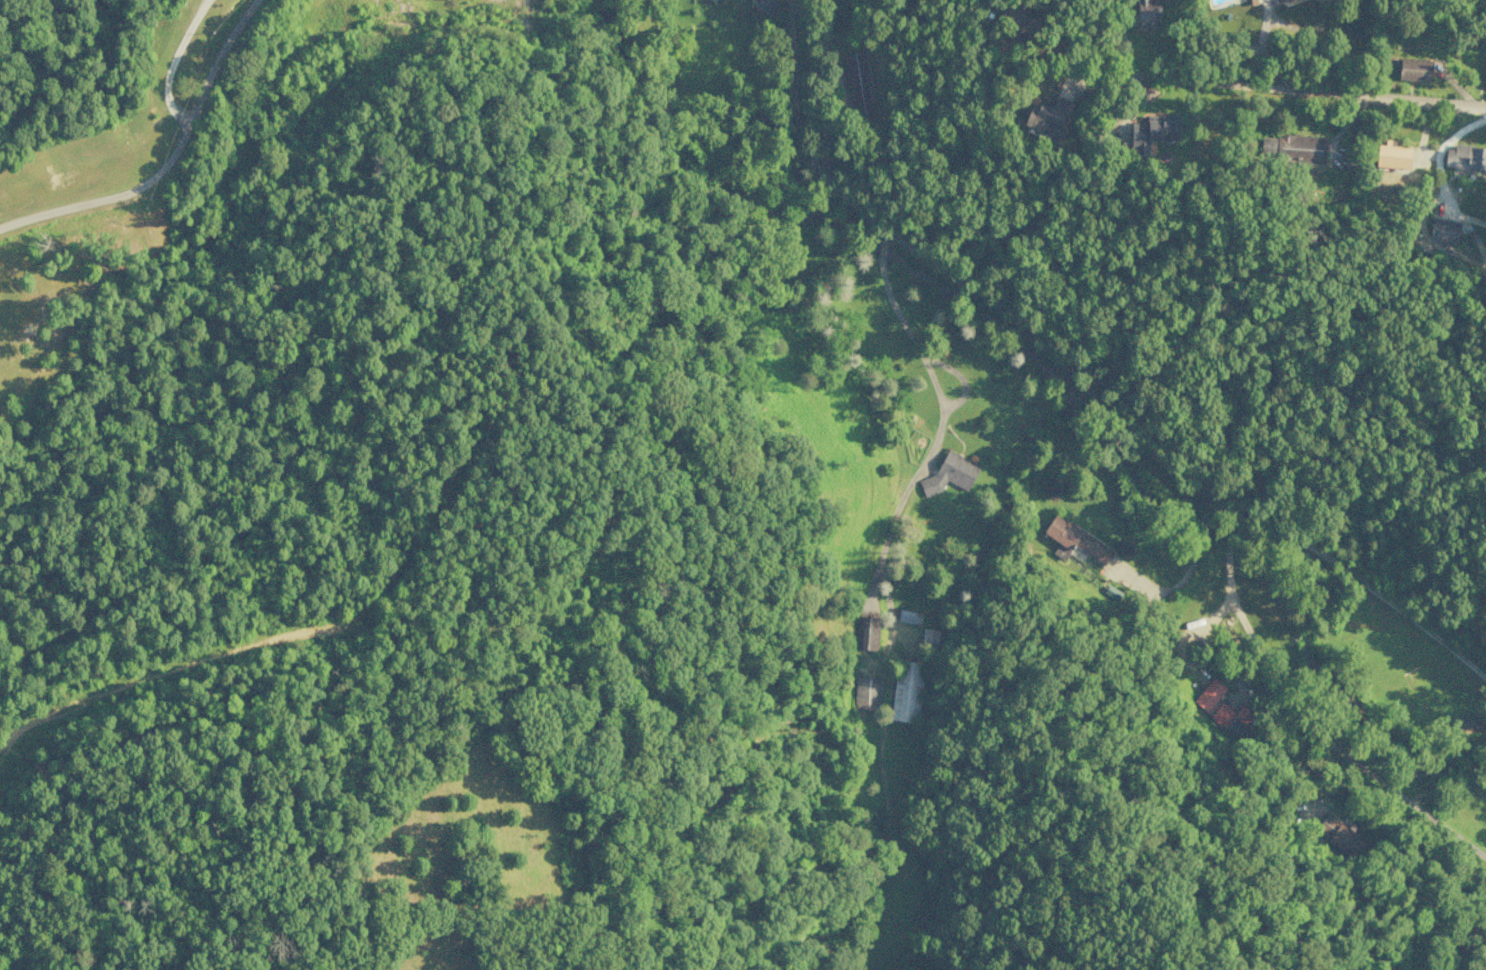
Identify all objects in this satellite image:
building: (762, 6)
building: (1146, 12)
building: (1018, 18)
building: (1413, 69)
building: (857, 82)
building: (1485, 85)
road: (1300, 93)
building: (1048, 117)
building: (1153, 132)
building: (1292, 147)
building: (1391, 155)
building: (1465, 157)
road: (164, 159)
building: (1443, 229)
road: (894, 331)
road: (1182, 458)
building: (949, 472)
building: (1111, 592)
building: (908, 617)
building: (866, 632)
building: (928, 636)
building: (905, 691)
building: (866, 692)
building: (1220, 708)
road: (1294, 740)
building: (1337, 835)

